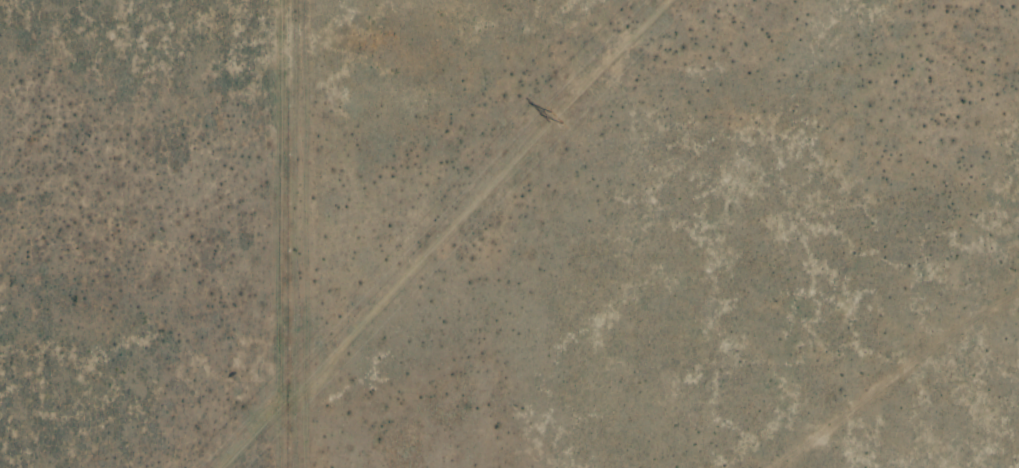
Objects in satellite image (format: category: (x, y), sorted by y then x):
power tower: (557, 117)

